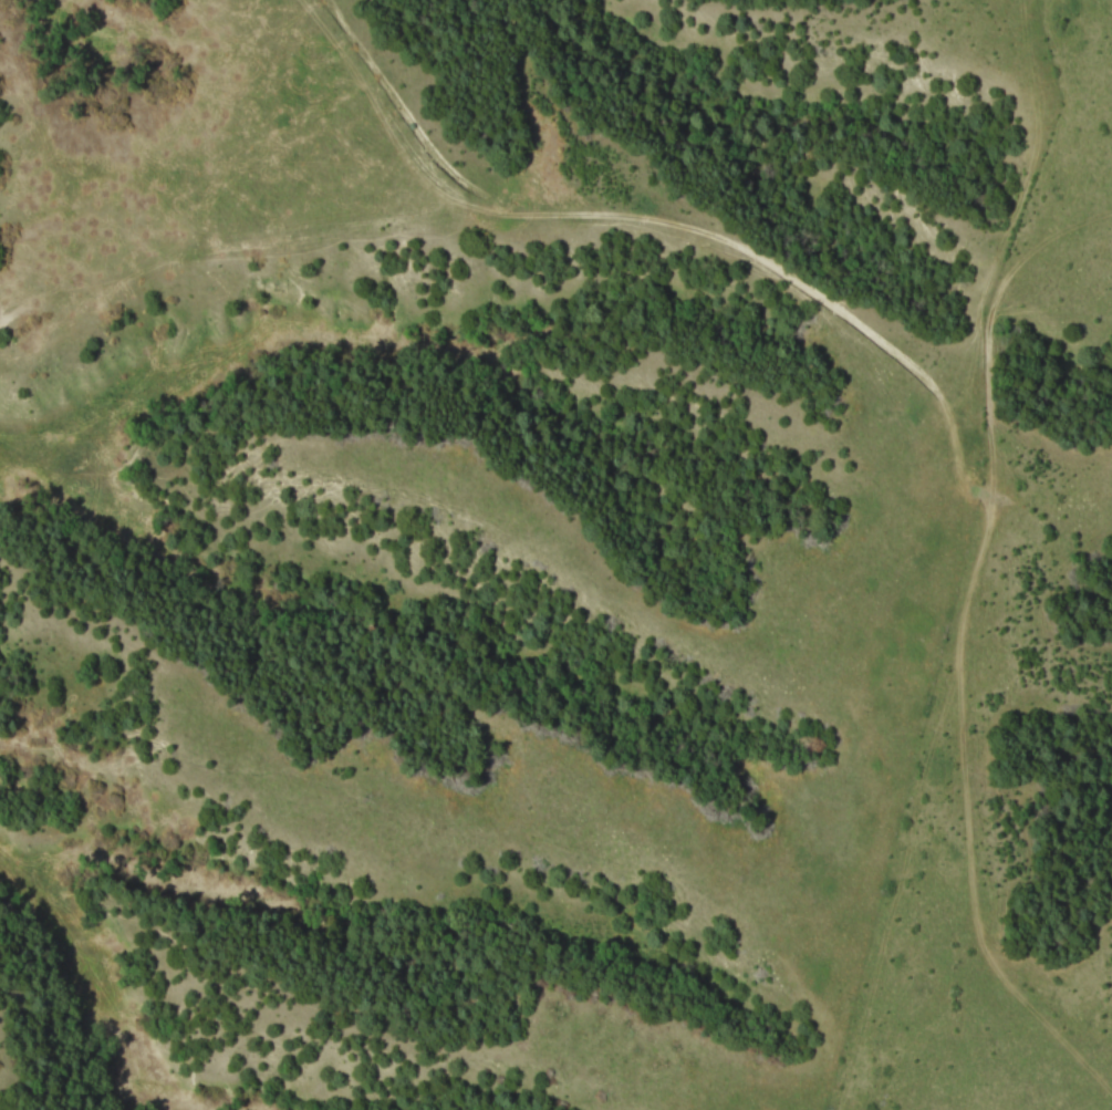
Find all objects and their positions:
road: (973, 567)

